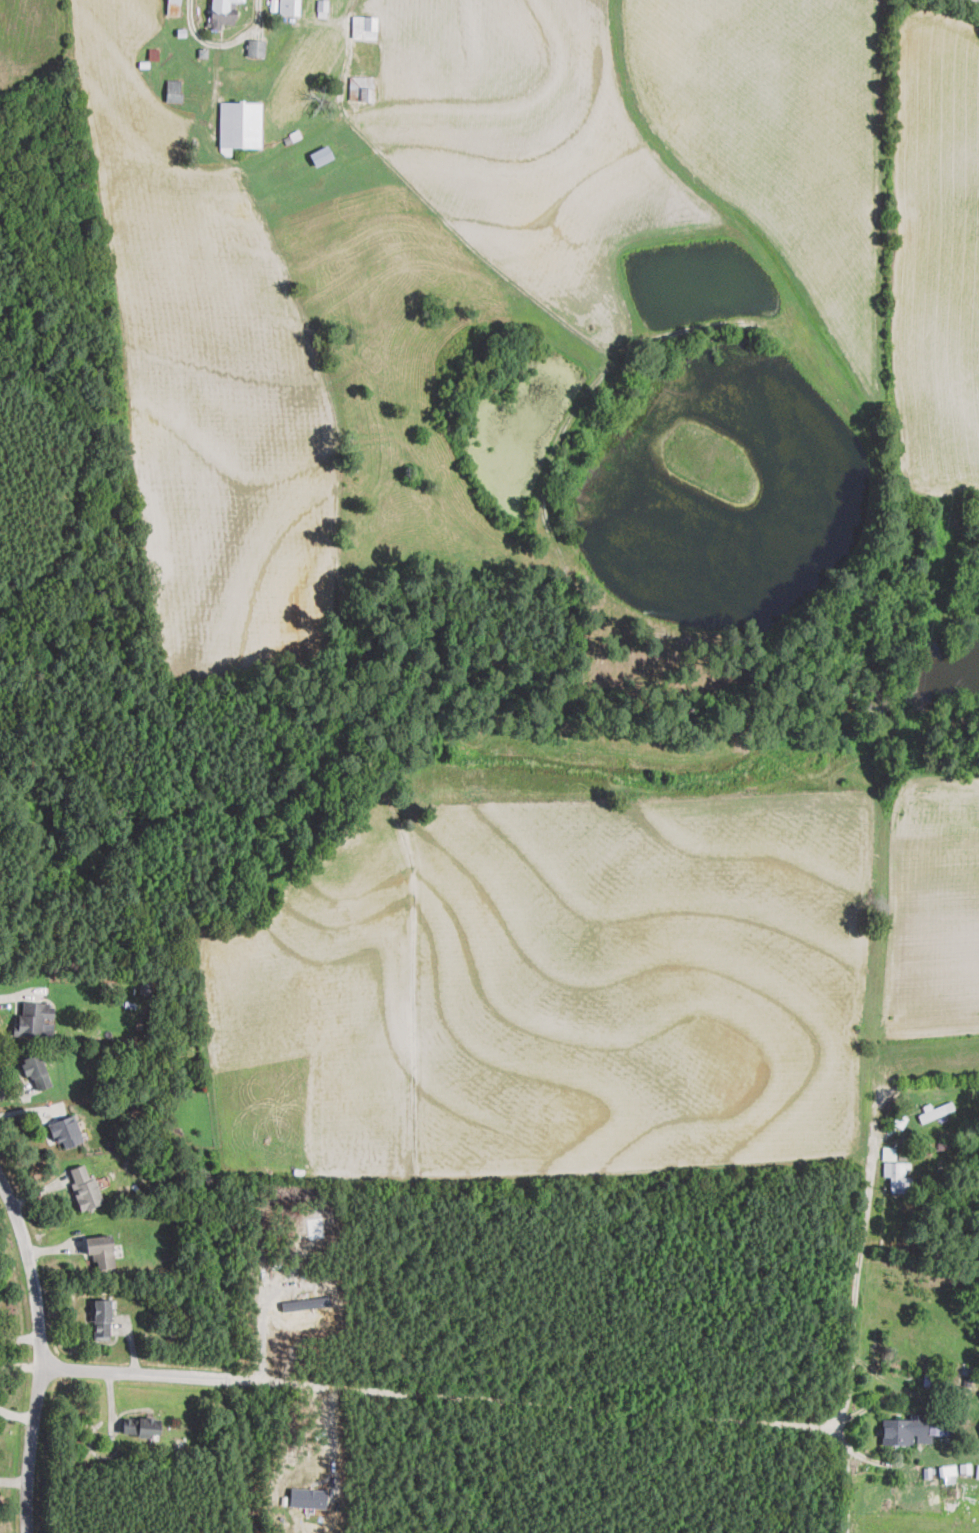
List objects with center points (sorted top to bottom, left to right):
building: (289, 6)
building: (172, 7)
building: (322, 7)
building: (222, 12)
building: (364, 26)
road: (222, 44)
building: (256, 47)
building: (361, 88)
building: (173, 89)
building: (239, 124)
building: (321, 155)
building: (34, 1017)
building: (36, 1070)
building: (936, 1110)
building: (67, 1131)
building: (889, 1153)
building: (898, 1176)
building: (85, 1188)
building: (102, 1250)
building: (306, 1303)
road: (857, 1316)
building: (101, 1318)
road: (262, 1318)
road: (41, 1348)
road: (444, 1395)
building: (141, 1426)
building: (940, 1427)
building: (905, 1430)
road: (333, 1442)
building: (965, 1467)
building: (947, 1469)
building: (977, 1470)
building: (308, 1497)

